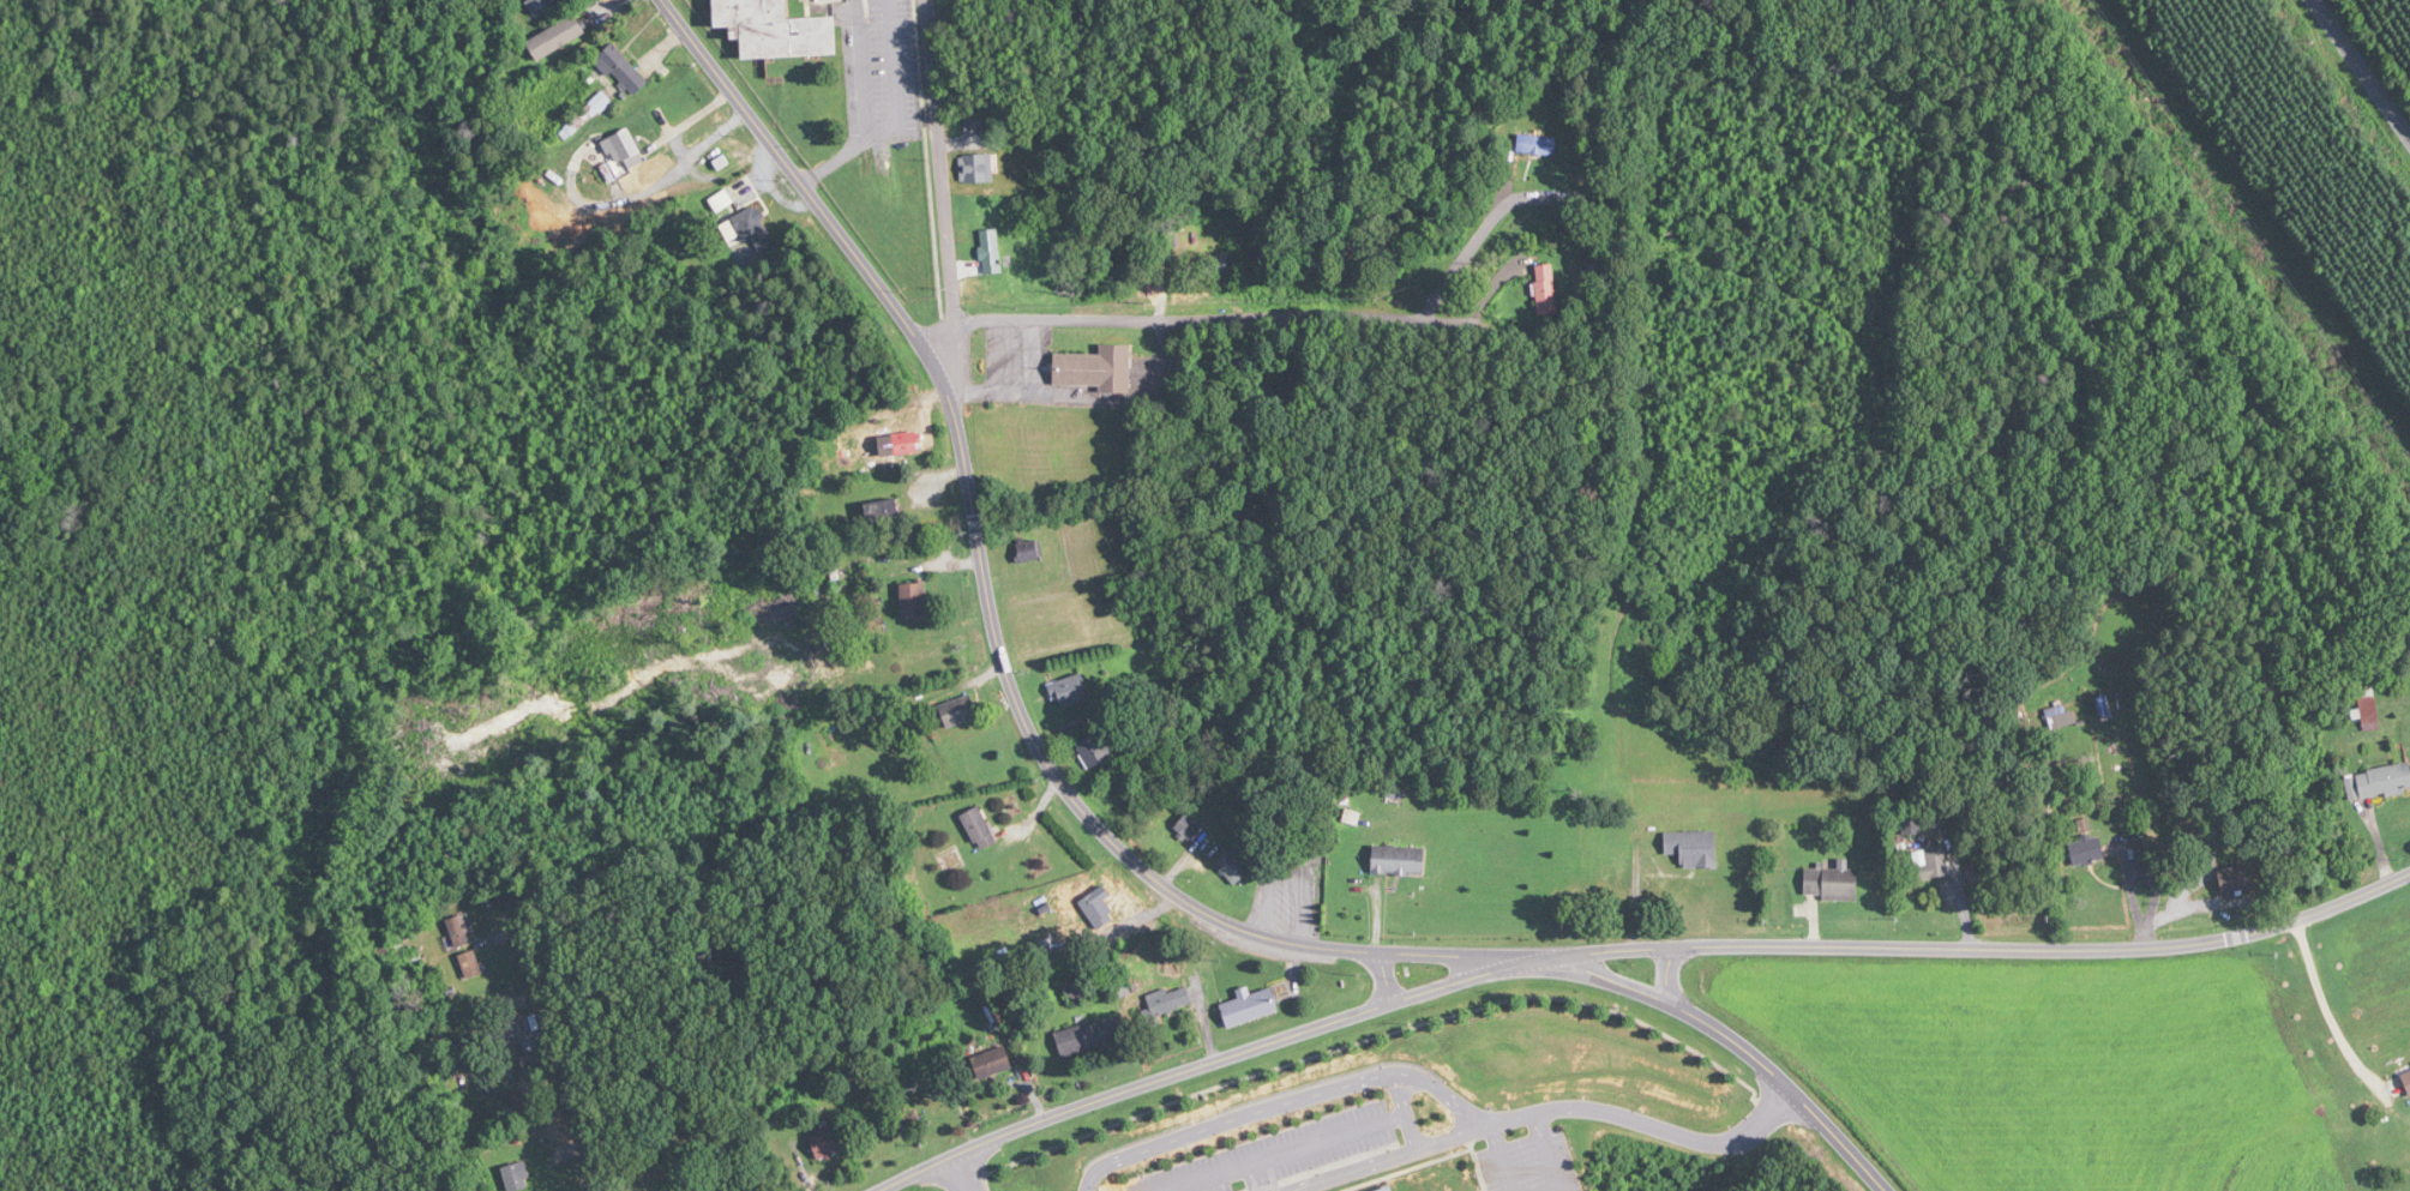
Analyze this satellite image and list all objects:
building: (549, 6)
building: (775, 29)
building: (561, 36)
road: (2361, 68)
building: (629, 70)
road: (883, 112)
building: (594, 115)
building: (1543, 144)
building: (630, 146)
building: (980, 168)
road: (1402, 180)
road: (807, 190)
road: (927, 193)
building: (727, 200)
building: (756, 225)
building: (992, 251)
building: (1370, 251)
building: (1222, 263)
building: (1547, 289)
road: (1303, 314)
building: (1096, 368)
building: (909, 444)
building: (884, 512)
building: (1032, 551)
building: (916, 600)
building: (1071, 691)
building: (960, 710)
road: (1021, 712)
building: (2068, 717)
building: (1095, 750)
building: (2379, 781)
building: (982, 826)
building: (1190, 828)
building: (1693, 848)
building: (2087, 848)
building: (1400, 859)
building: (1931, 862)
building: (1234, 866)
building: (2236, 877)
building: (1832, 882)
building: (1098, 909)
road: (1976, 948)
road: (1395, 951)
road: (1666, 975)
road: (1387, 976)
building: (1122, 986)
building: (1076, 991)
road: (1411, 995)
building: (1167, 1001)
road: (2326, 1003)
building: (1250, 1006)
building: (1090, 1035)
road: (1731, 1039)
road: (551, 1042)
building: (993, 1061)
building: (2405, 1078)
road: (1395, 1091)
building: (945, 1103)
road: (1081, 1105)
road: (1281, 1105)
road: (1641, 1124)
building: (825, 1143)
road: (1299, 1145)
road: (1545, 1151)
road: (1500, 1157)
road: (1381, 1159)
building: (521, 1174)
road: (956, 1174)
building: (1388, 1190)

